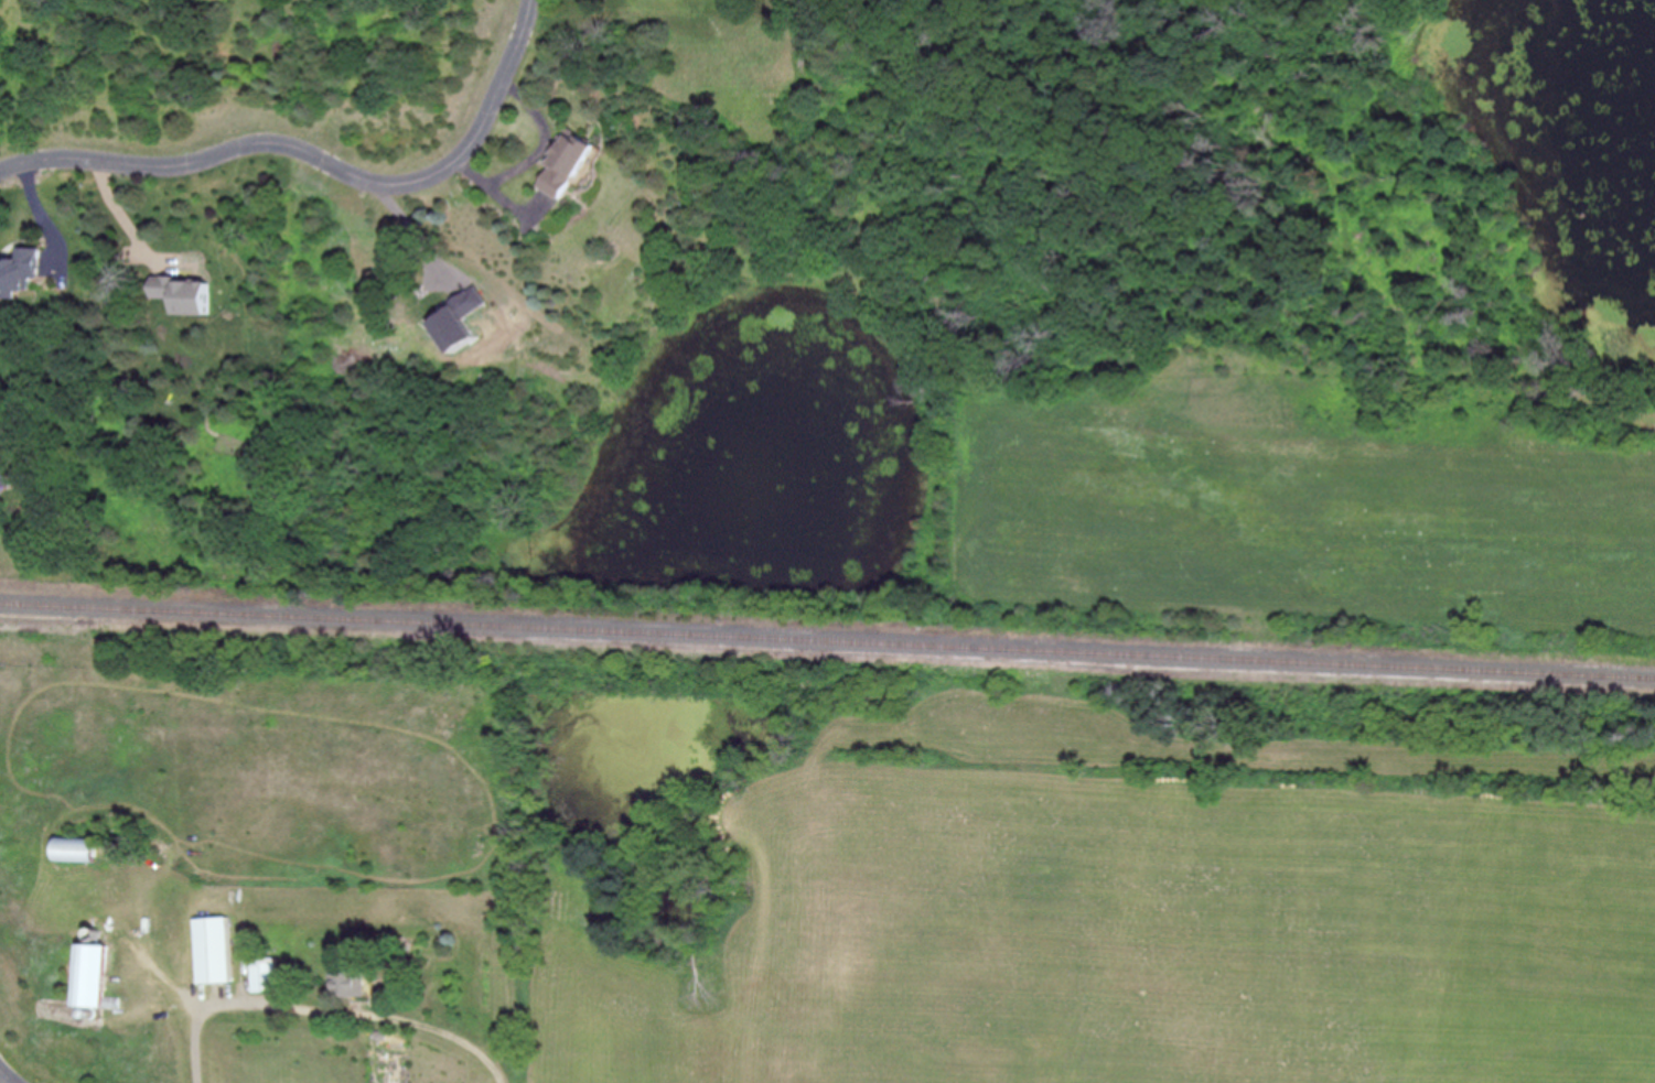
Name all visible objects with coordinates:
building: (568, 165)
road: (322, 172)
road: (128, 226)
building: (21, 271)
railway: (827, 639)
building: (75, 848)
building: (213, 949)
building: (92, 973)
building: (264, 974)
building: (348, 983)
road: (327, 1014)
road: (6, 1077)

